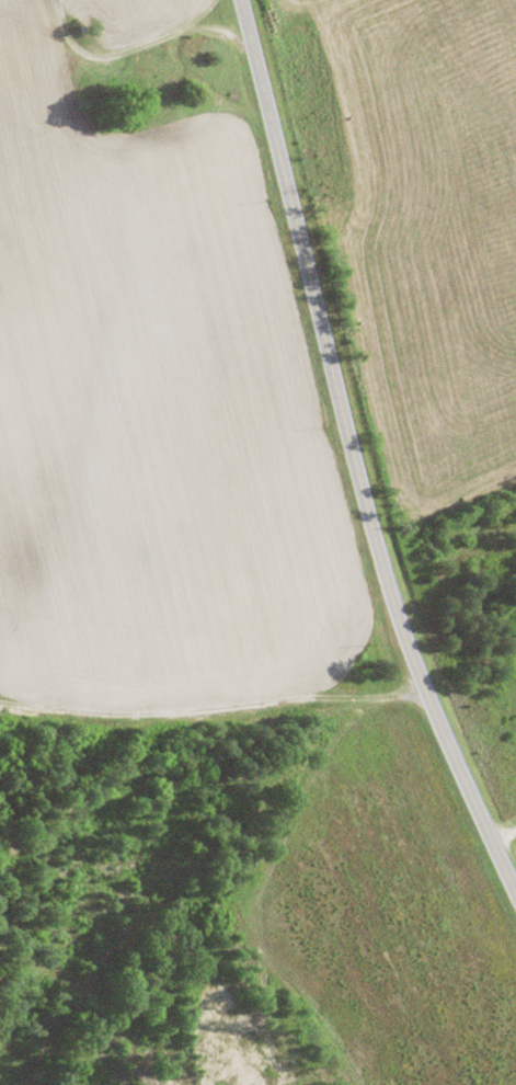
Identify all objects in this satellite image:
road: (352, 468)
road: (210, 742)

